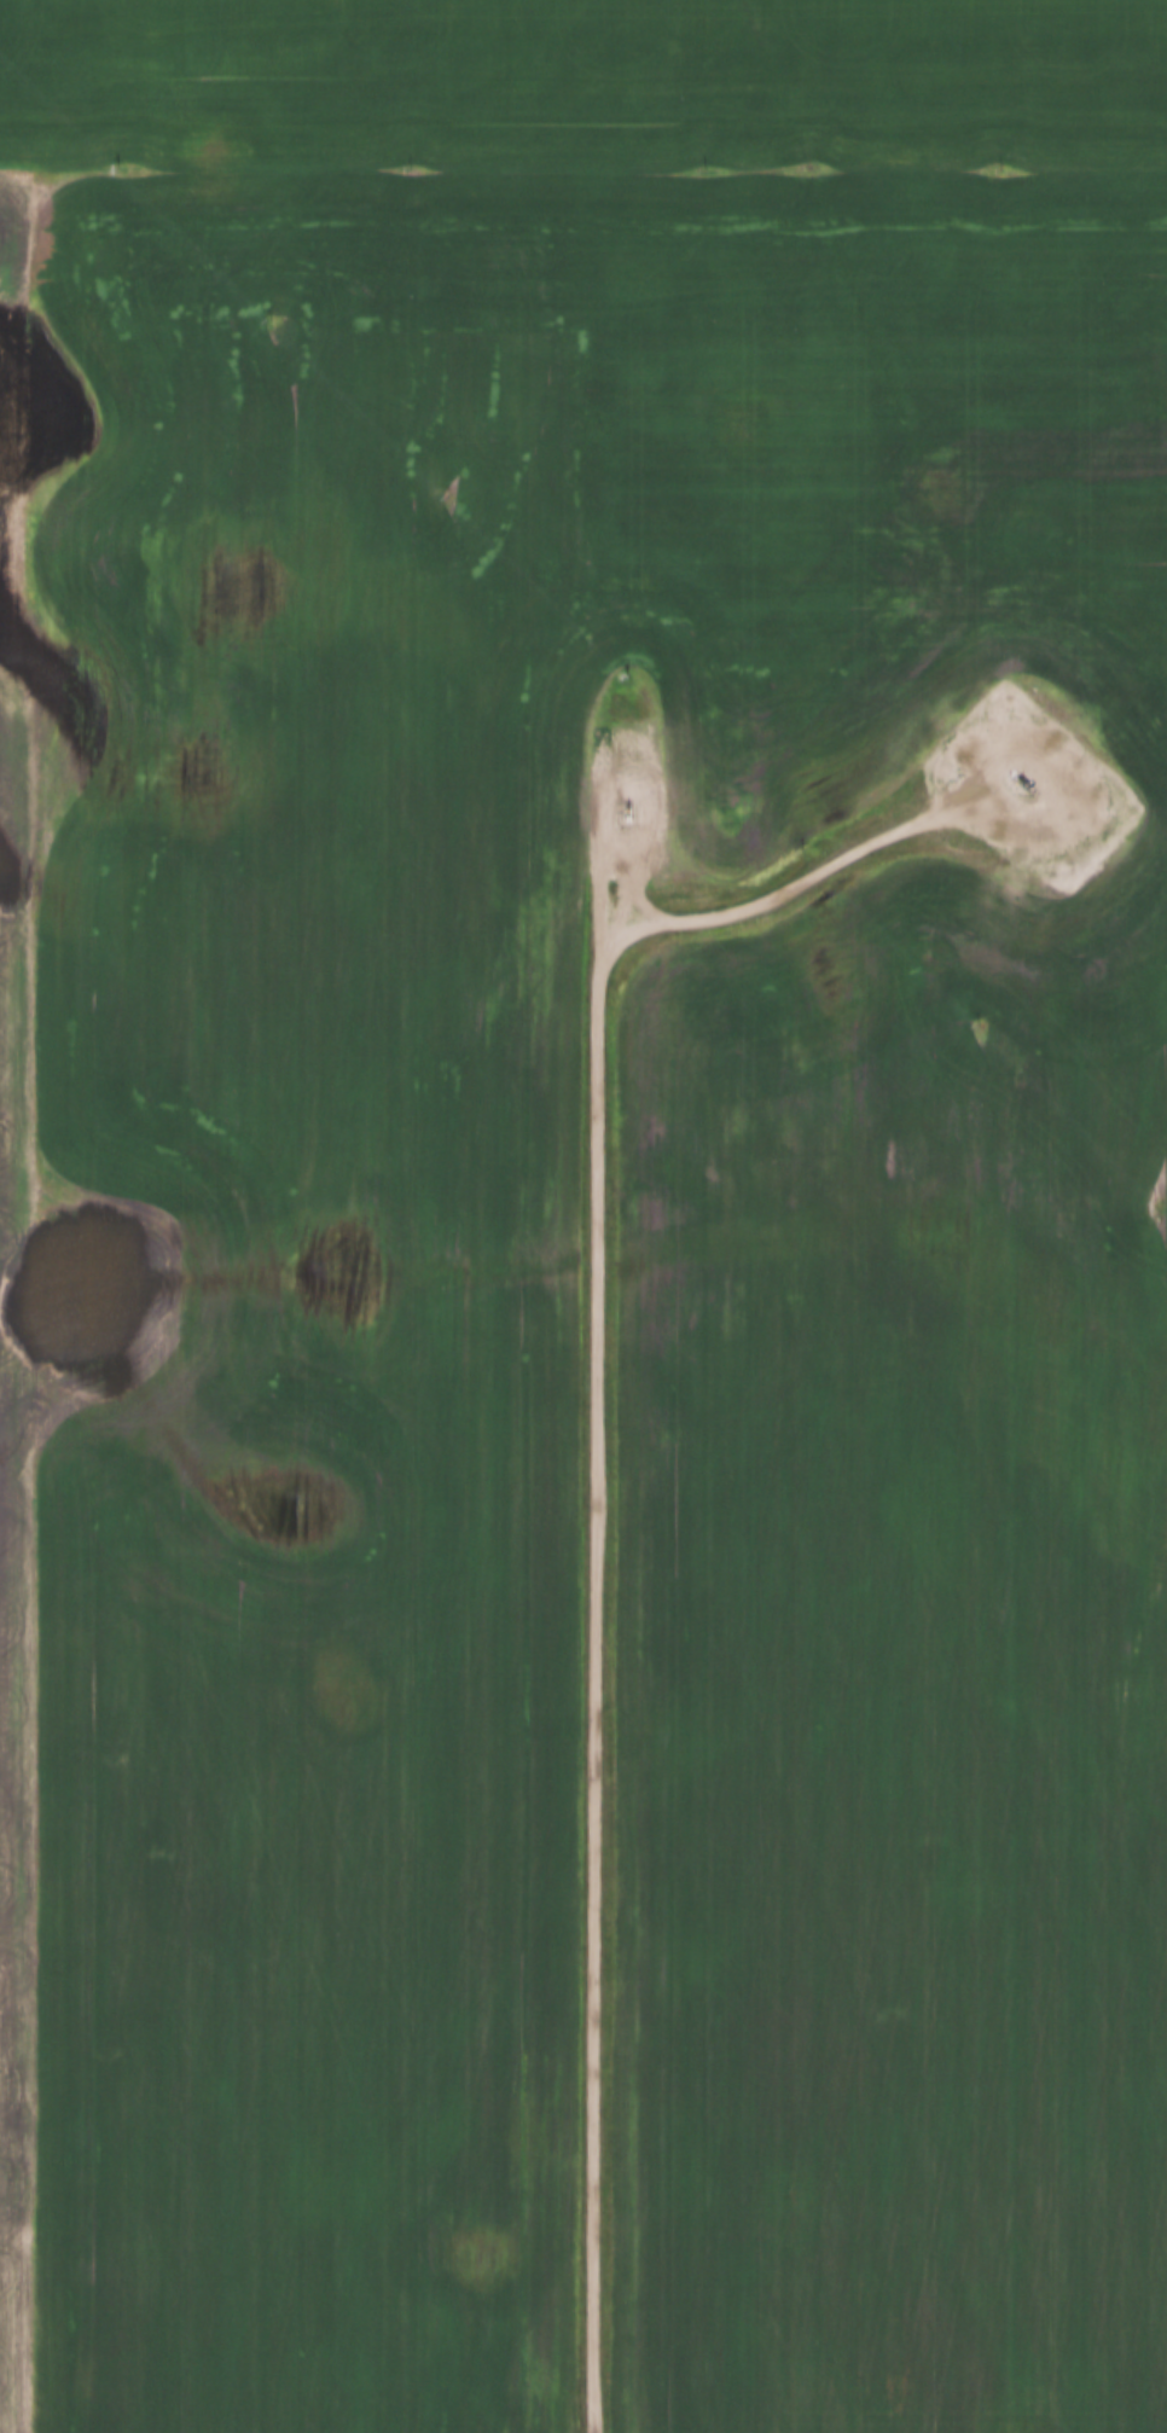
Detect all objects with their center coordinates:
road: (814, 869)
road: (597, 1619)

